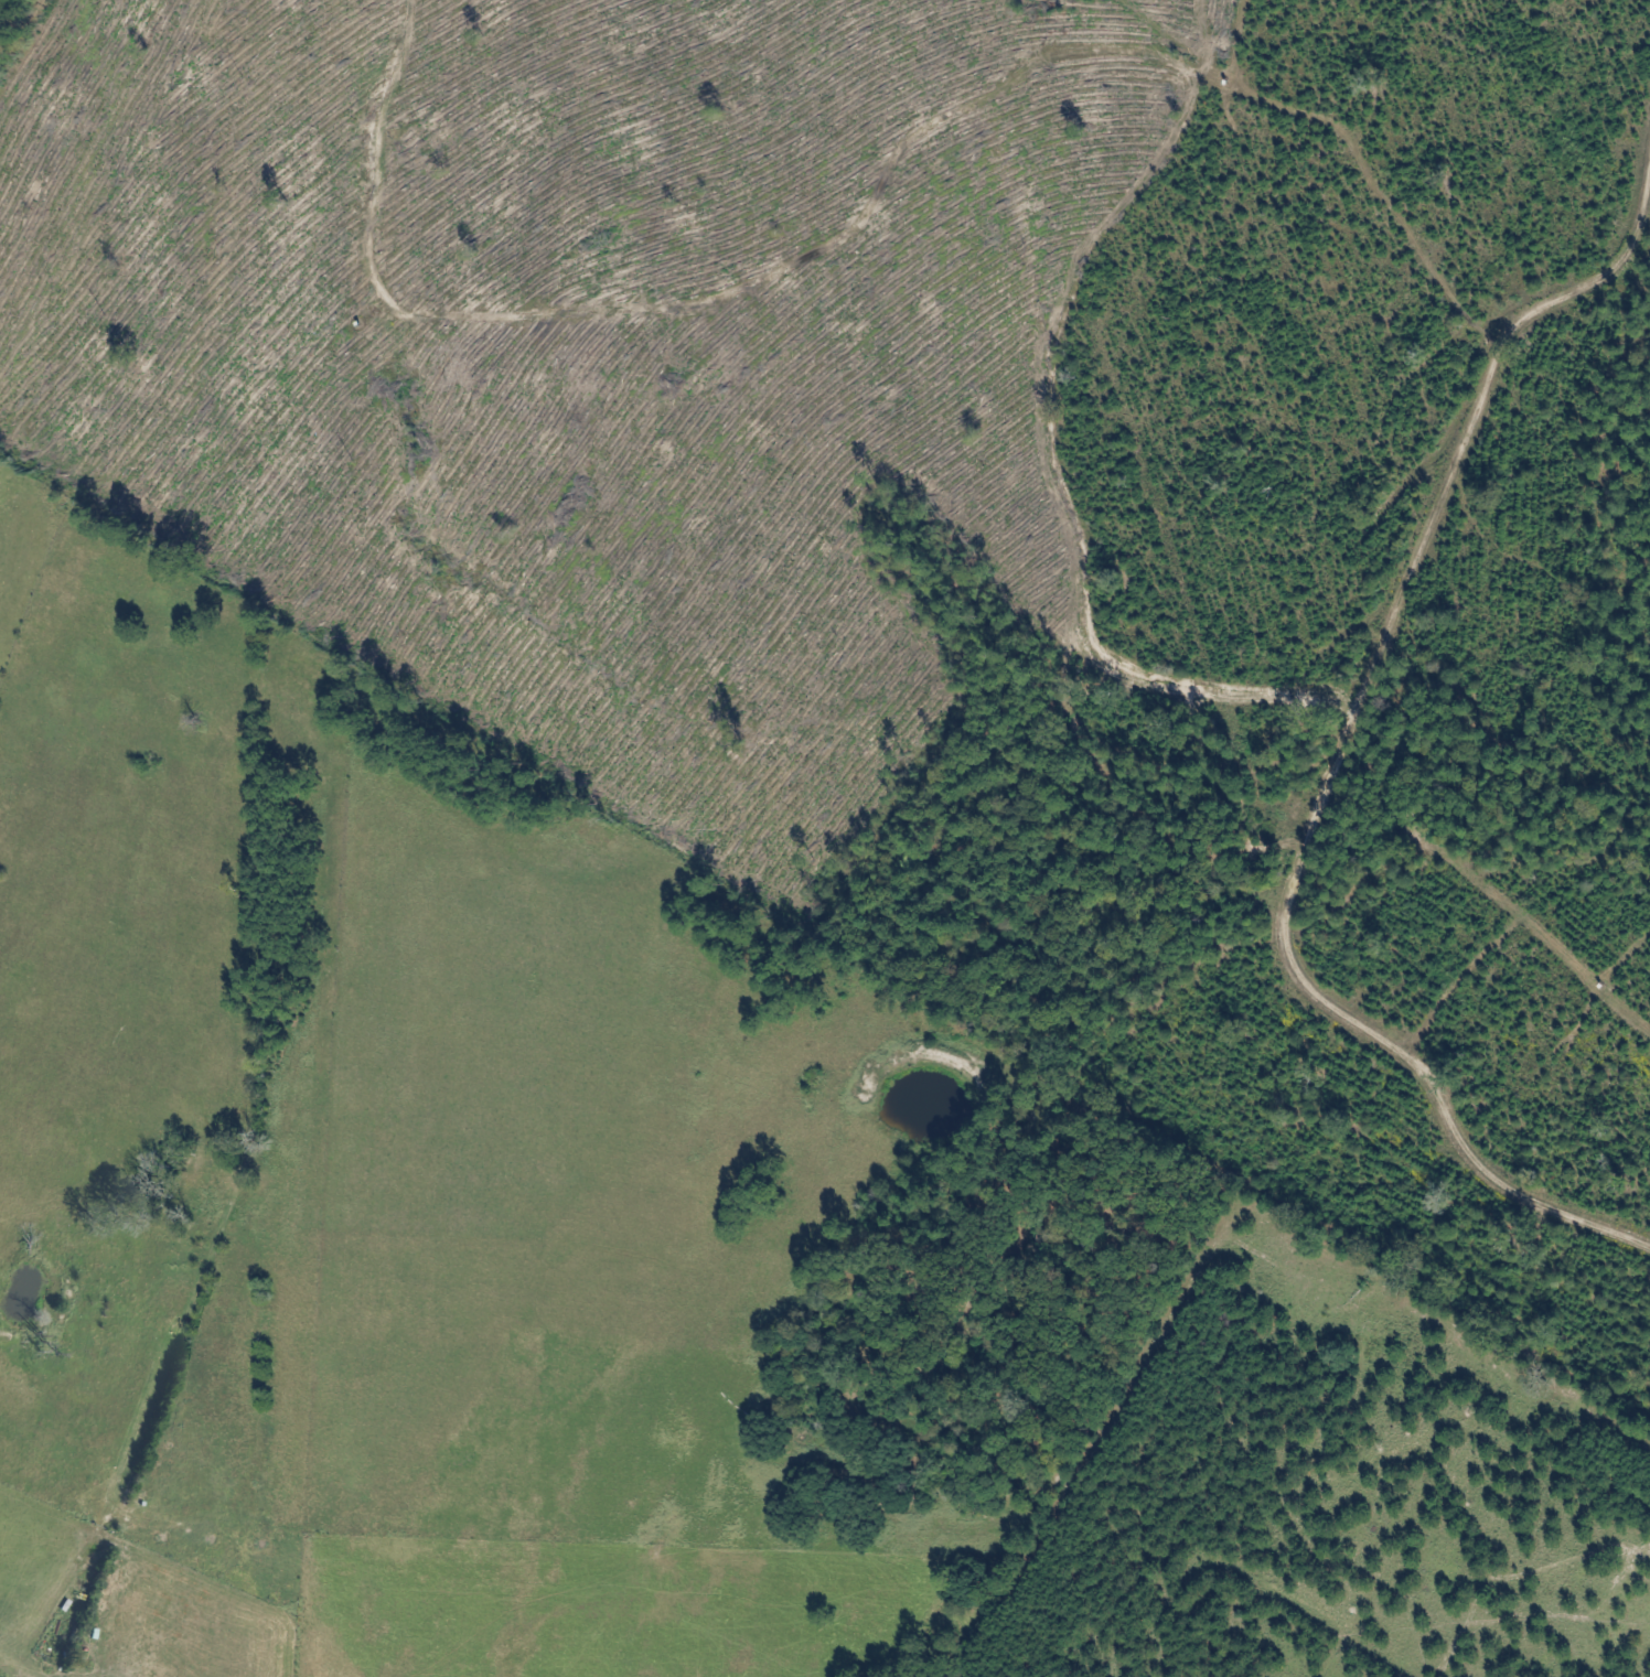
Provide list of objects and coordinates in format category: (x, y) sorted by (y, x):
road: (1344, 692)

